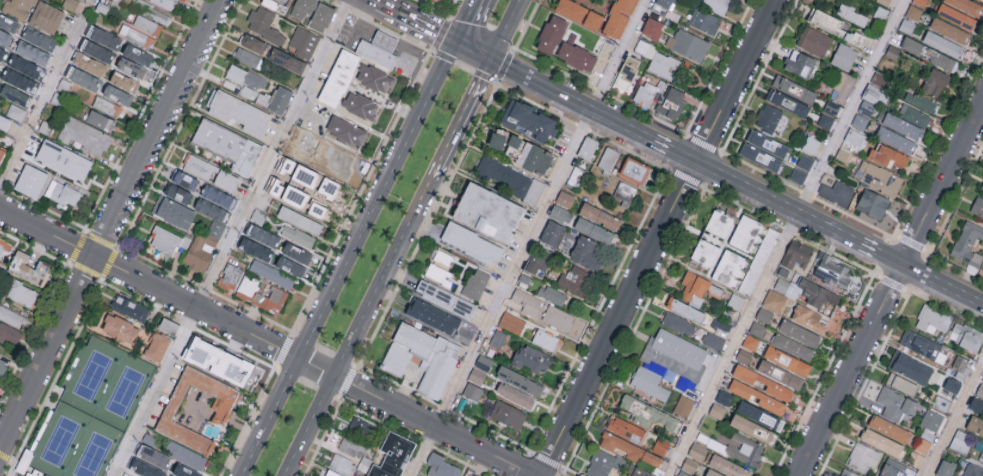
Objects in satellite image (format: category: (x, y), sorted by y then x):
road: (375, 0)
building: (282, 1)
building: (433, 1)
building: (884, 1)
building: (920, 2)
building: (166, 3)
building: (664, 3)
building: (70, 4)
building: (716, 5)
building: (966, 6)
building: (274, 7)
building: (18, 8)
building: (303, 9)
building: (152, 12)
building: (914, 12)
building: (851, 14)
building: (956, 16)
building: (46, 17)
building: (320, 19)
road: (417, 21)
road: (467, 21)
building: (704, 21)
building: (8, 24)
building: (148, 25)
building: (264, 25)
building: (834, 26)
building: (653, 28)
road: (507, 30)
building: (950, 30)
building: (611, 31)
building: (136, 36)
building: (5, 37)
building: (39, 39)
building: (814, 41)
building: (304, 42)
traffic signals: (457, 42)
building: (253, 43)
building: (100, 44)
building: (943, 44)
building: (688, 45)
building: (563, 47)
building: (645, 48)
road: (475, 50)
building: (379, 52)
building: (893, 52)
building: (2, 53)
building: (32, 53)
building: (929, 54)
building: (137, 55)
building: (844, 56)
building: (247, 57)
traffic signals: (493, 60)
building: (287, 61)
building: (88, 64)
building: (800, 64)
building: (664, 65)
building: (25, 67)
building: (131, 68)
building: (627, 76)
building: (339, 78)
building: (374, 78)
building: (84, 79)
building: (879, 79)
building: (20, 80)
building: (246, 81)
building: (124, 82)
building: (935, 82)
building: (842, 86)
building: (794, 89)
road: (45, 94)
building: (648, 94)
building: (15, 95)
building: (117, 95)
road: (572, 99)
building: (872, 99)
building: (275, 100)
building: (920, 101)
building: (671, 103)
building: (787, 103)
building: (360, 105)
building: (106, 106)
building: (832, 107)
building: (238, 112)
building: (14, 113)
road: (310, 115)
building: (914, 115)
building: (768, 118)
road: (464, 119)
building: (101, 120)
building: (526, 120)
building: (825, 121)
building: (860, 121)
building: (902, 126)
building: (346, 131)
building: (84, 136)
building: (854, 137)
building: (896, 140)
building: (767, 145)
building: (228, 146)
building: (333, 150)
building: (587, 150)
road: (673, 150)
building: (758, 150)
building: (1, 154)
building: (842, 155)
building: (528, 156)
building: (888, 156)
building: (63, 160)
building: (608, 161)
building: (326, 164)
building: (199, 167)
building: (286, 167)
building: (802, 168)
building: (635, 174)
building: (304, 176)
building: (576, 176)
building: (878, 177)
building: (30, 181)
building: (185, 181)
building: (226, 181)
building: (512, 181)
building: (274, 188)
building: (328, 188)
building: (982, 189)
building: (63, 193)
building: (837, 193)
building: (178, 194)
building: (622, 196)
building: (219, 197)
building: (294, 197)
building: (565, 199)
road: (777, 202)
building: (870, 204)
building: (977, 207)
building: (317, 210)
building: (173, 212)
building: (561, 214)
building: (489, 215)
building: (600, 217)
building: (299, 220)
building: (720, 224)
road: (111, 225)
building: (594, 231)
building: (552, 233)
building: (206, 236)
building: (263, 236)
building: (298, 236)
road: (528, 237)
building: (746, 237)
road: (785, 237)
road: (230, 238)
road: (656, 238)
building: (167, 240)
building: (967, 245)
building: (5, 246)
building: (470, 247)
building: (256, 249)
building: (585, 252)
building: (296, 253)
building: (704, 255)
road: (882, 255)
building: (442, 256)
building: (797, 256)
road: (347, 258)
building: (536, 263)
building: (290, 266)
building: (29, 267)
building: (728, 270)
building: (437, 272)
building: (830, 272)
building: (272, 274)
building: (229, 277)
building: (575, 279)
building: (476, 283)
building: (783, 285)
road: (943, 285)
building: (694, 287)
road: (891, 290)
building: (21, 292)
building: (261, 293)
building: (818, 293)
building: (551, 294)
building: (445, 298)
building: (735, 300)
building: (774, 300)
building: (527, 301)
building: (129, 307)
building: (685, 308)
building: (764, 314)
building: (433, 315)
building: (13, 317)
building: (809, 317)
building: (563, 321)
building: (931, 321)
building: (511, 322)
building: (679, 323)
building: (168, 325)
building: (119, 327)
road: (363, 327)
building: (757, 328)
building: (799, 332)
building: (9, 334)
building: (497, 338)
building: (966, 338)
building: (547, 340)
building: (713, 340)
building: (750, 341)
road: (268, 342)
building: (157, 345)
building: (793, 345)
building: (922, 345)
building: (422, 357)
building: (531, 357)
building: (217, 358)
building: (787, 360)
building: (2, 366)
building: (910, 366)
building: (960, 367)
building: (780, 373)
building: (982, 378)
building: (519, 379)
building: (762, 382)
building: (901, 382)
building: (952, 385)
building: (473, 390)
building: (980, 390)
building: (515, 394)
building: (756, 396)
building: (896, 403)
building: (684, 405)
building: (221, 408)
building: (644, 408)
park: (92, 411)
building: (508, 413)
building: (760, 414)
road: (954, 418)
road: (222, 419)
building: (932, 419)
building: (975, 425)
building: (363, 427)
building: (889, 427)
building: (626, 428)
building: (753, 428)
building: (881, 441)
building: (961, 441)
building: (921, 444)
building: (621, 445)
building: (660, 445)
building: (352, 446)
building: (744, 448)
building: (697, 451)
building: (153, 455)
building: (392, 455)
building: (982, 455)
building: (863, 456)
building: (651, 457)
building: (341, 463)
building: (600, 463)
building: (728, 466)
building: (442, 467)
building: (946, 467)
building: (145, 468)
building: (892, 468)
building: (696, 469)
building: (185, 470)
building: (973, 470)
building: (641, 472)
building: (332, 473)
building: (848, 473)
building: (126, 474)
building: (474, 474)
building: (169, 475)

